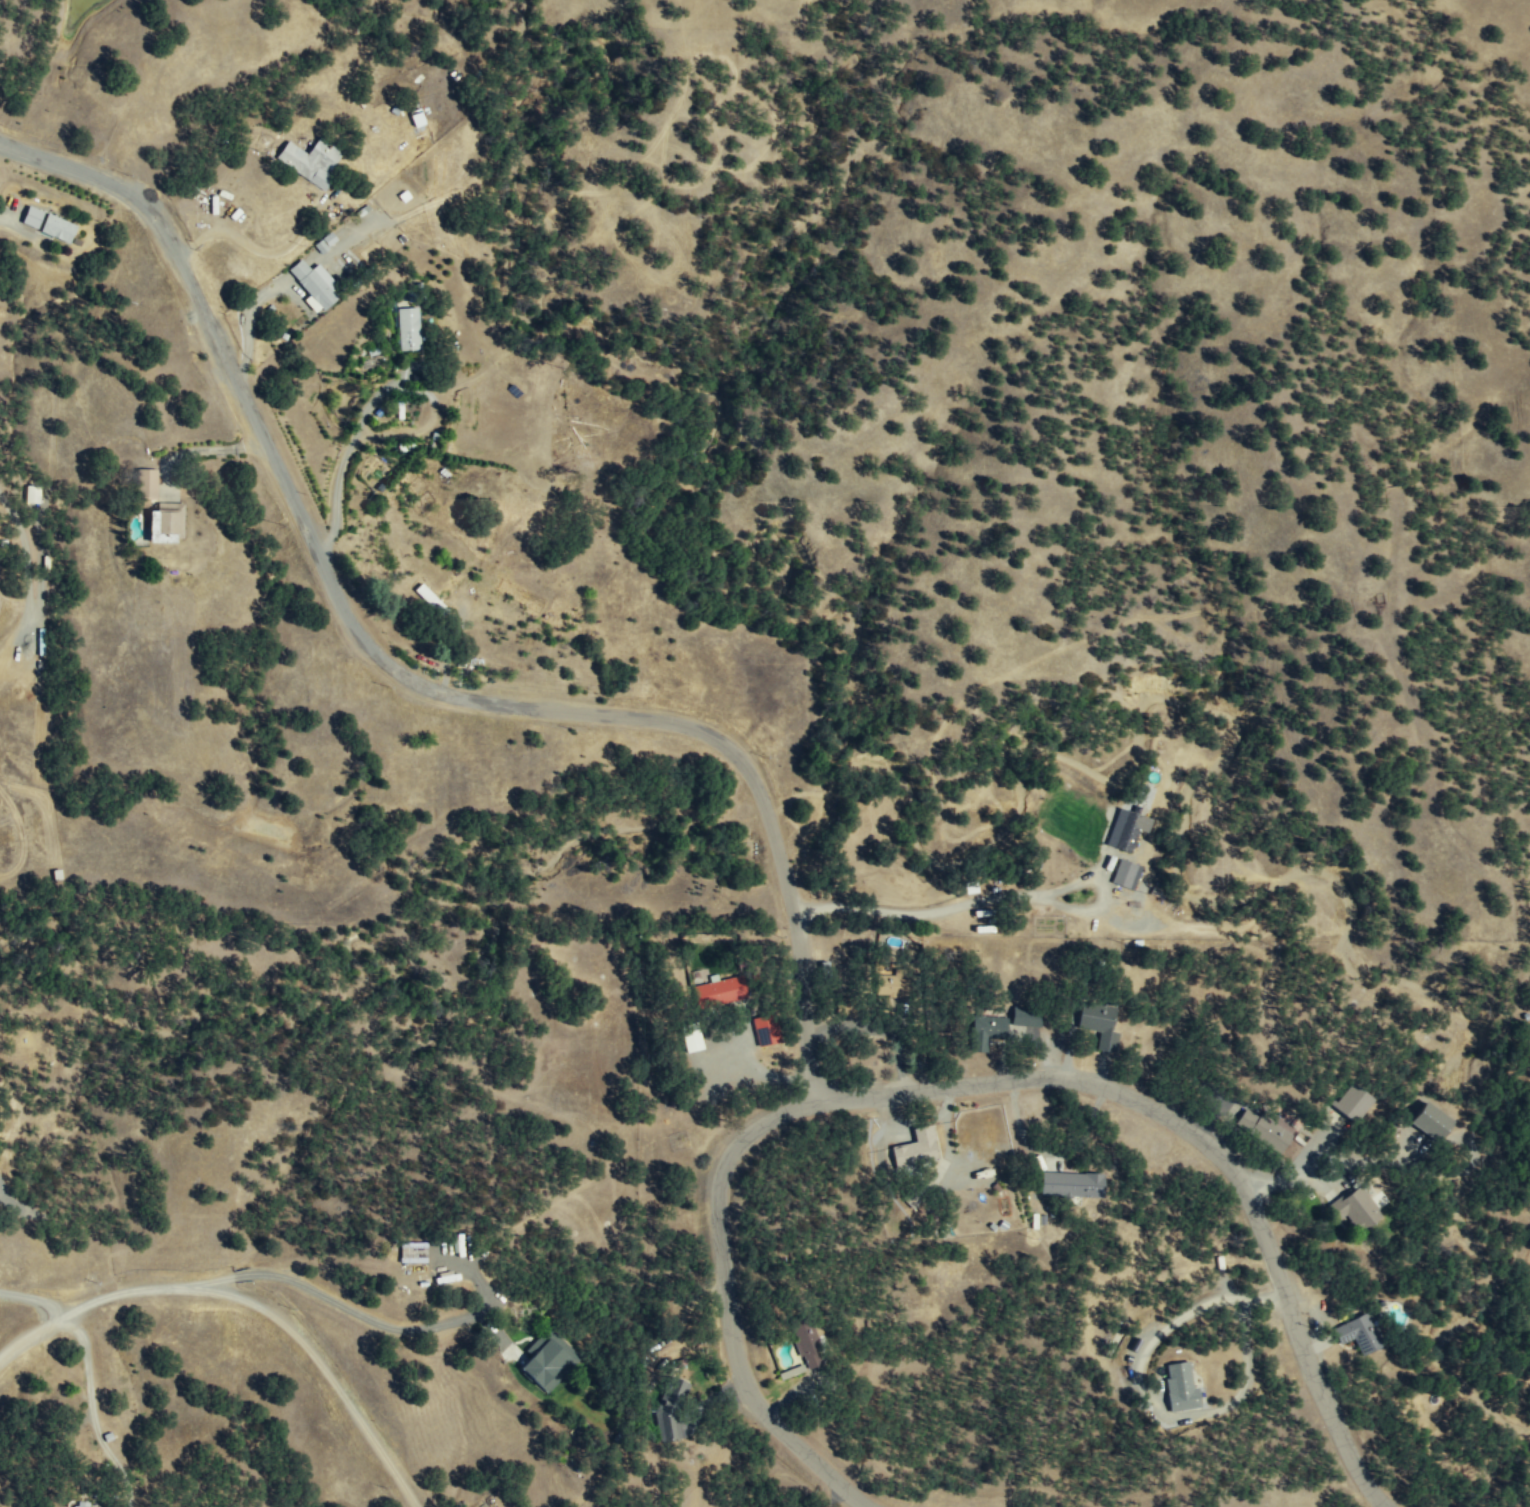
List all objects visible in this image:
building: (417, 118)
building: (311, 161)
building: (49, 224)
building: (325, 242)
building: (314, 284)
building: (408, 328)
building: (148, 483)
building: (32, 494)
building: (166, 522)
building: (429, 597)
road: (413, 677)
building: (1127, 829)
building: (1126, 873)
road: (1000, 896)
building: (898, 982)
building: (720, 992)
building: (1027, 1017)
building: (1100, 1024)
building: (767, 1030)
building: (988, 1031)
building: (693, 1041)
road: (979, 1087)
building: (1354, 1102)
building: (1433, 1122)
building: (1263, 1129)
building: (915, 1149)
building: (1073, 1184)
building: (1358, 1208)
building: (415, 1253)
road: (247, 1300)
road: (1177, 1319)
building: (1360, 1333)
building: (810, 1347)
building: (550, 1362)
building: (1181, 1387)
building: (671, 1412)
road: (92, 1413)
building: (83, 1504)

